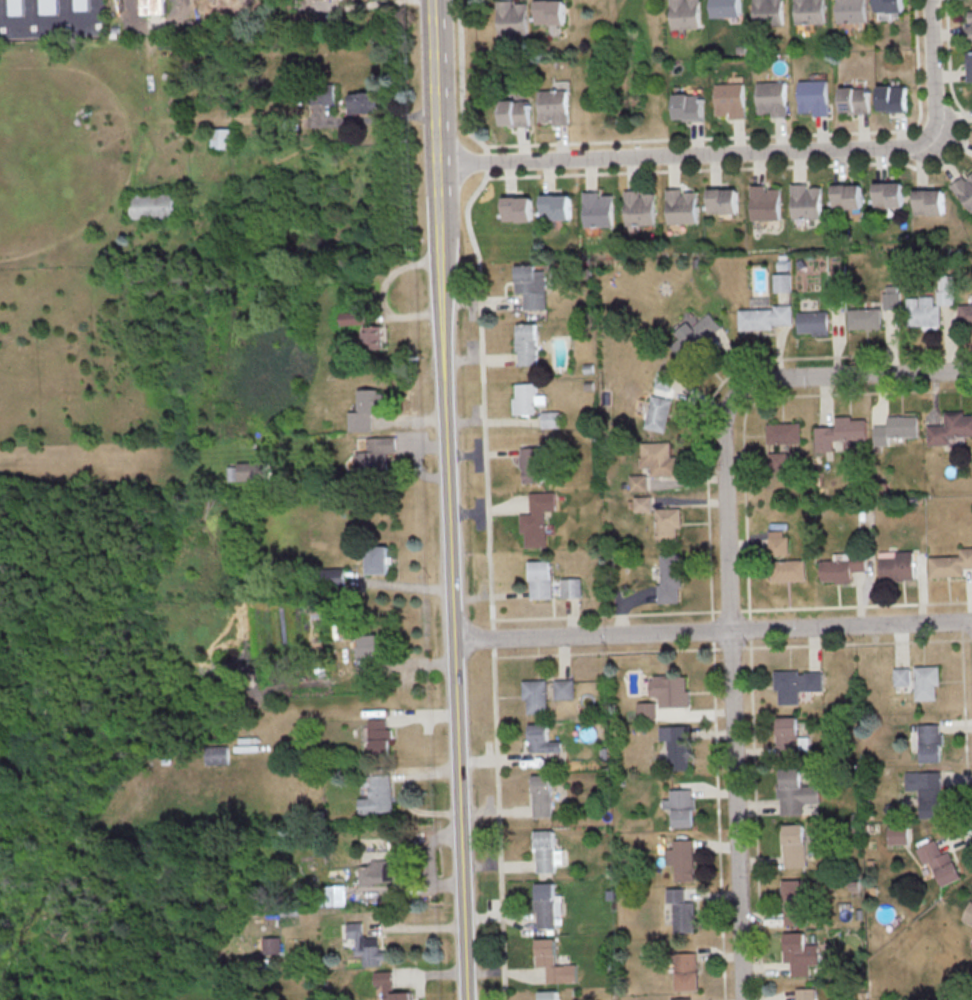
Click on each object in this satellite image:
building: (81, 4)
building: (888, 5)
building: (48, 6)
building: (153, 6)
building: (14, 7)
building: (725, 8)
building: (809, 11)
building: (851, 11)
building: (549, 12)
building: (768, 12)
building: (683, 16)
building: (511, 18)
road: (148, 23)
road: (55, 24)
building: (969, 27)
building: (970, 66)
building: (813, 96)
building: (325, 98)
building: (771, 98)
building: (892, 98)
building: (729, 99)
building: (854, 100)
building: (364, 101)
building: (554, 103)
building: (688, 106)
building: (514, 112)
building: (222, 137)
road: (754, 153)
building: (965, 189)
building: (888, 194)
building: (847, 195)
building: (722, 200)
building: (805, 201)
building: (928, 201)
building: (764, 202)
building: (152, 205)
building: (557, 205)
building: (680, 206)
building: (638, 207)
building: (517, 208)
building: (597, 209)
building: (781, 282)
building: (531, 285)
building: (945, 289)
building: (834, 295)
building: (891, 297)
building: (923, 312)
building: (965, 314)
building: (352, 316)
building: (764, 317)
building: (865, 317)
building: (813, 322)
building: (702, 329)
building: (373, 336)
building: (526, 343)
building: (663, 381)
road: (735, 394)
building: (526, 398)
building: (365, 409)
building: (657, 413)
building: (550, 419)
building: (950, 428)
building: (896, 429)
building: (783, 432)
building: (841, 433)
building: (375, 455)
building: (658, 458)
building: (778, 460)
building: (530, 464)
building: (251, 471)
building: (638, 482)
road: (448, 500)
building: (642, 503)
building: (536, 518)
building: (667, 523)
building: (777, 542)
building: (377, 559)
building: (951, 563)
building: (842, 566)
building: (897, 566)
building: (788, 569)
building: (333, 576)
building: (669, 578)
building: (550, 582)
road: (712, 631)
building: (367, 645)
building: (901, 675)
building: (926, 681)
building: (796, 684)
building: (563, 688)
building: (670, 690)
building: (534, 695)
building: (646, 710)
building: (787, 734)
building: (379, 736)
building: (540, 738)
building: (930, 742)
building: (677, 745)
building: (216, 754)
building: (926, 791)
building: (796, 792)
building: (377, 793)
road: (404, 793)
building: (541, 795)
building: (681, 807)
road: (737, 815)
building: (897, 834)
building: (794, 845)
building: (546, 851)
building: (682, 859)
building: (939, 862)
building: (379, 871)
building: (338, 894)
building: (794, 901)
building: (546, 905)
building: (681, 910)
building: (968, 912)
building: (366, 944)
building: (271, 945)
building: (800, 953)
building: (553, 962)
building: (686, 971)
building: (389, 986)
building: (805, 993)
building: (548, 994)
building: (681, 998)

